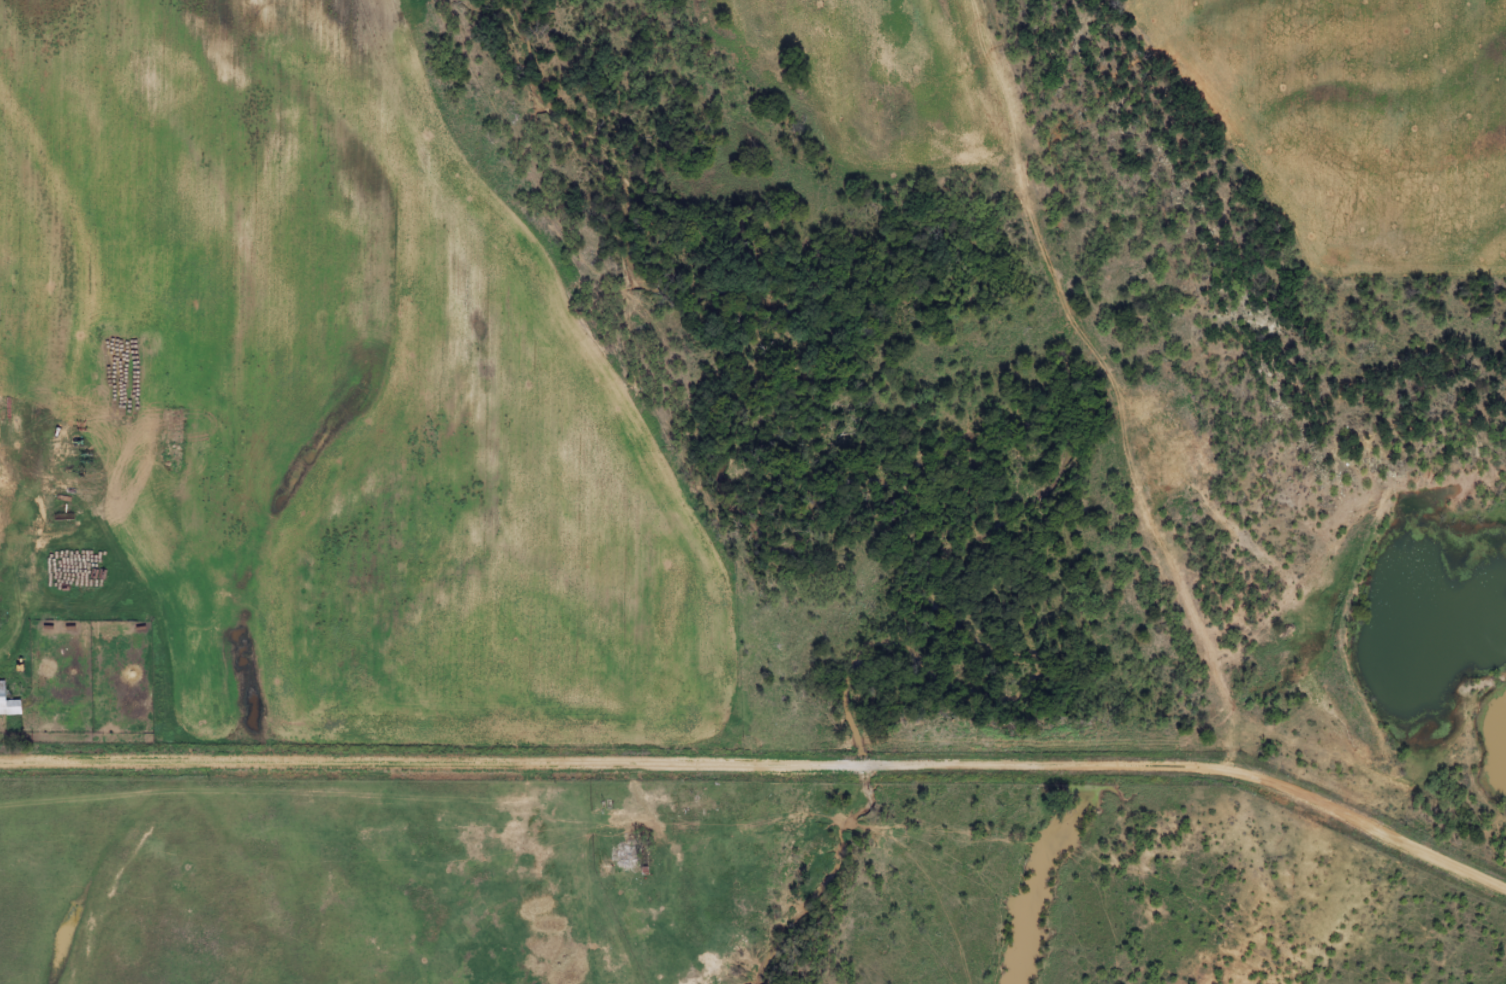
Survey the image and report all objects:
building: (66, 559)
building: (5, 698)
road: (765, 765)

